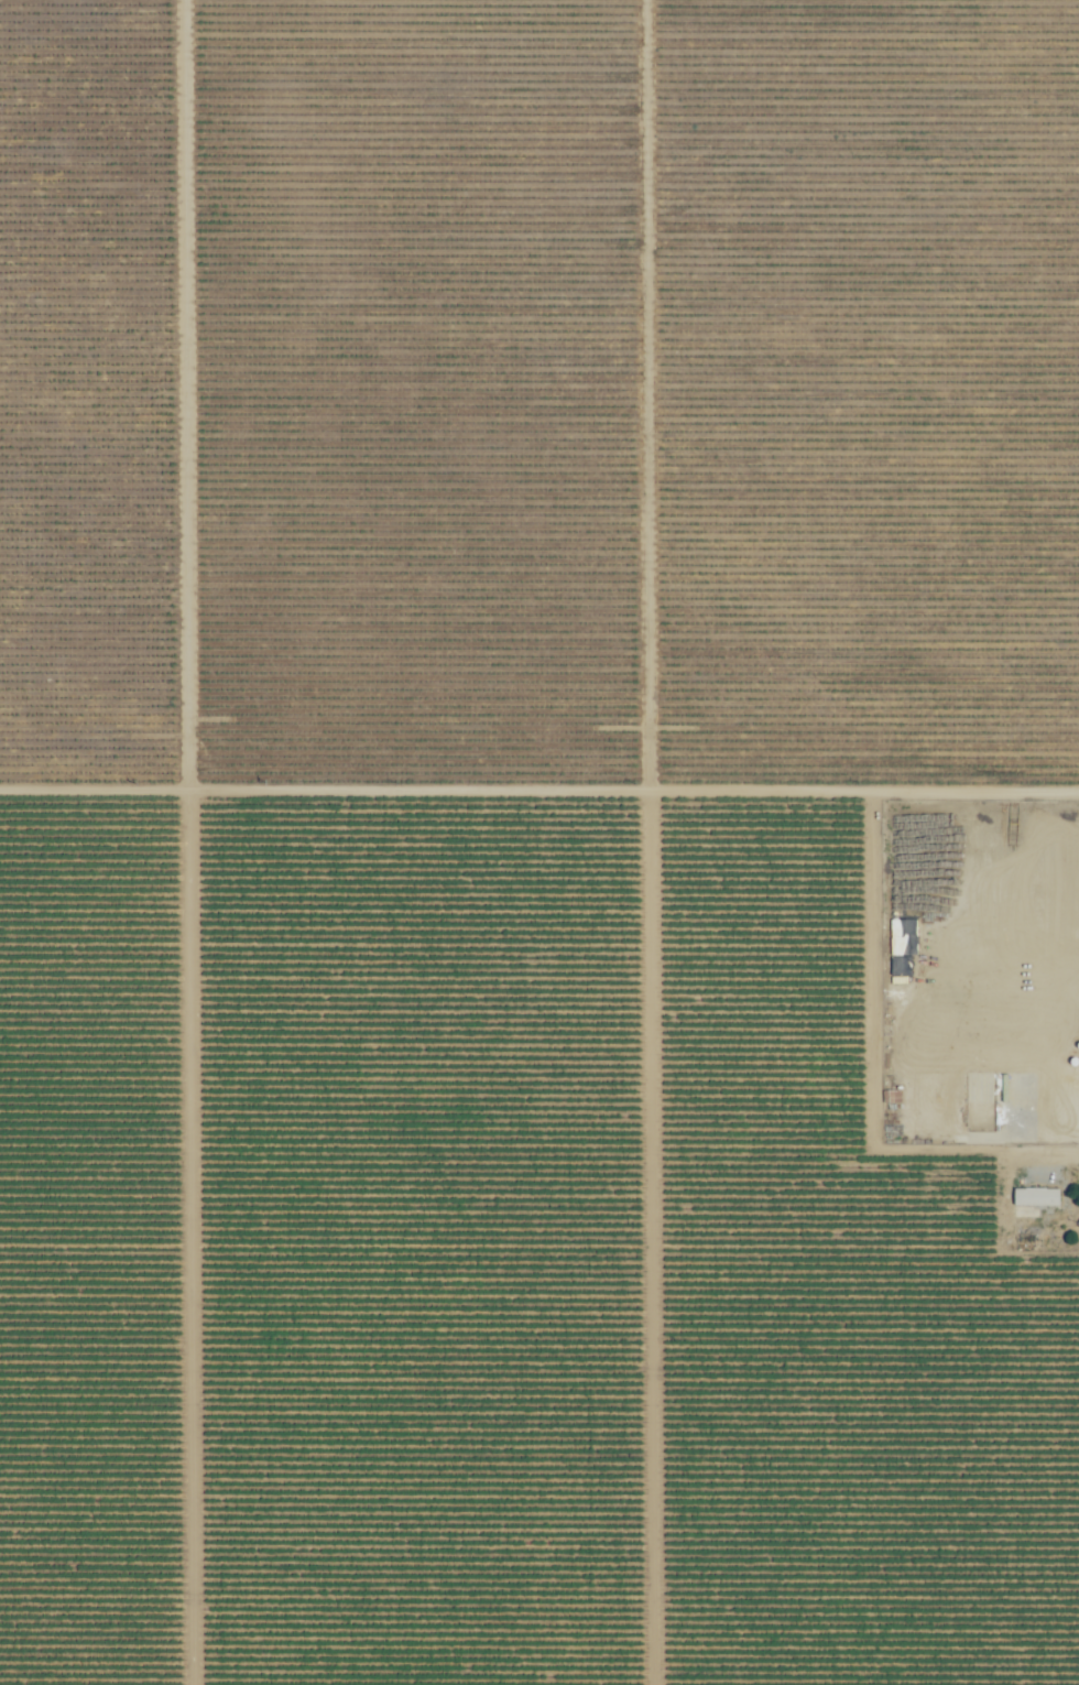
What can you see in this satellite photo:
building: (33, 748)
building: (903, 826)
crop: (539, 843)
building: (902, 865)
building: (1040, 878)
building: (945, 882)
building: (938, 980)
building: (1038, 980)
building: (1045, 1176)
building: (1036, 1196)

